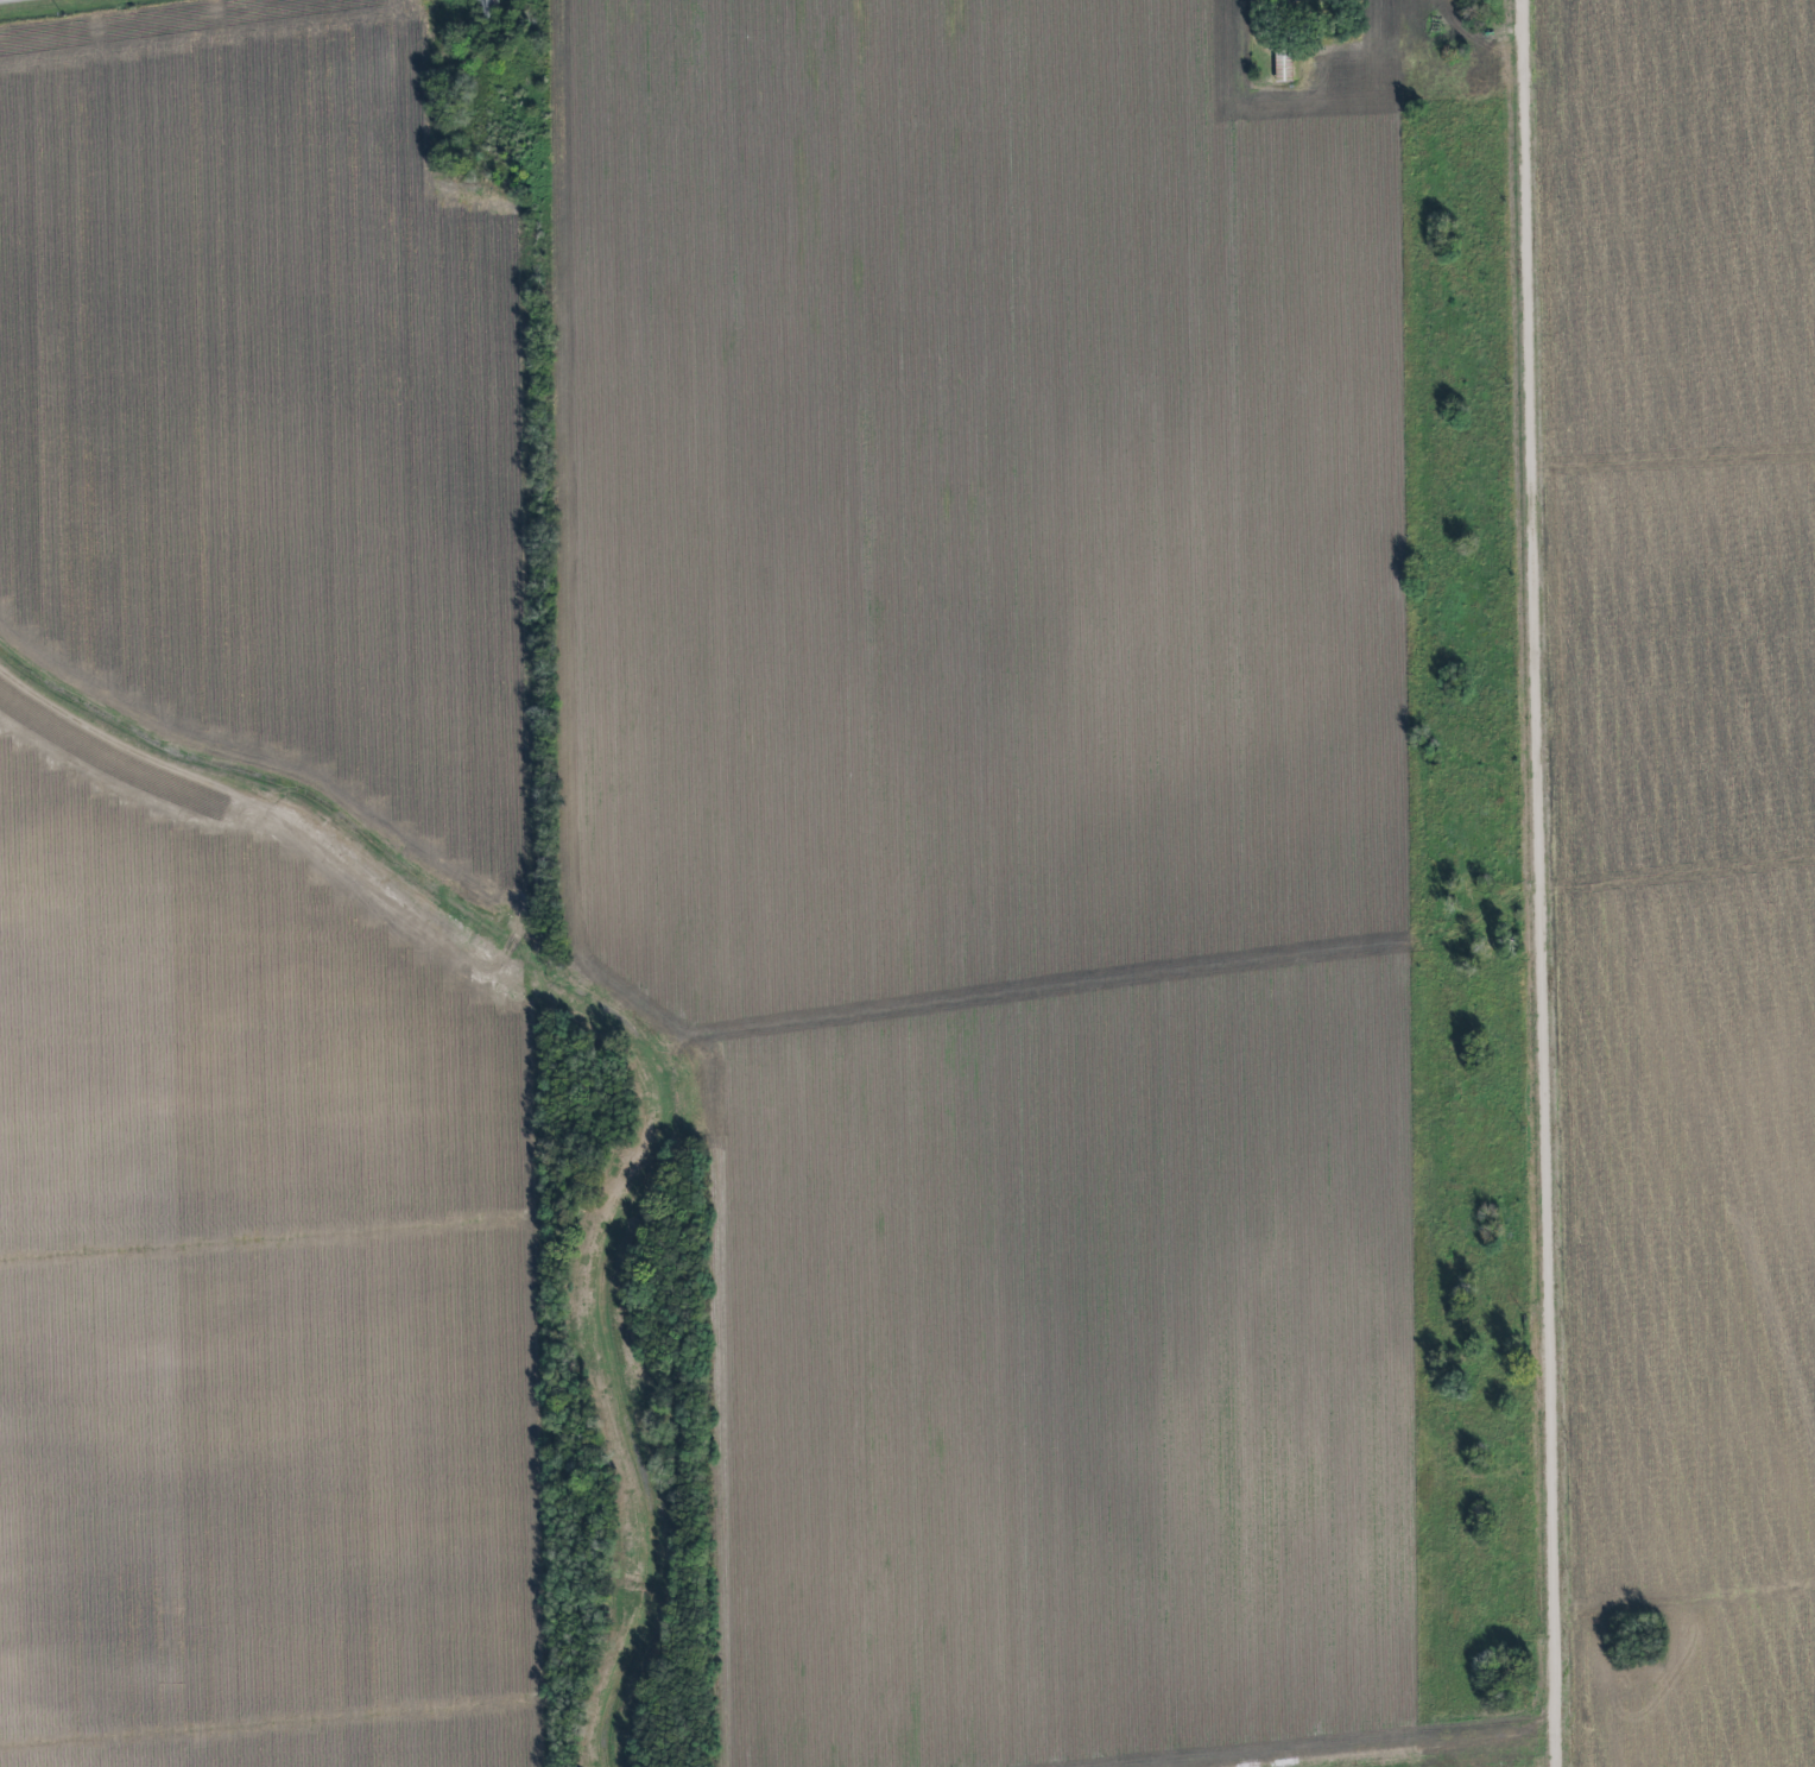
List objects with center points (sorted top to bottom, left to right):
road: (1547, 883)

